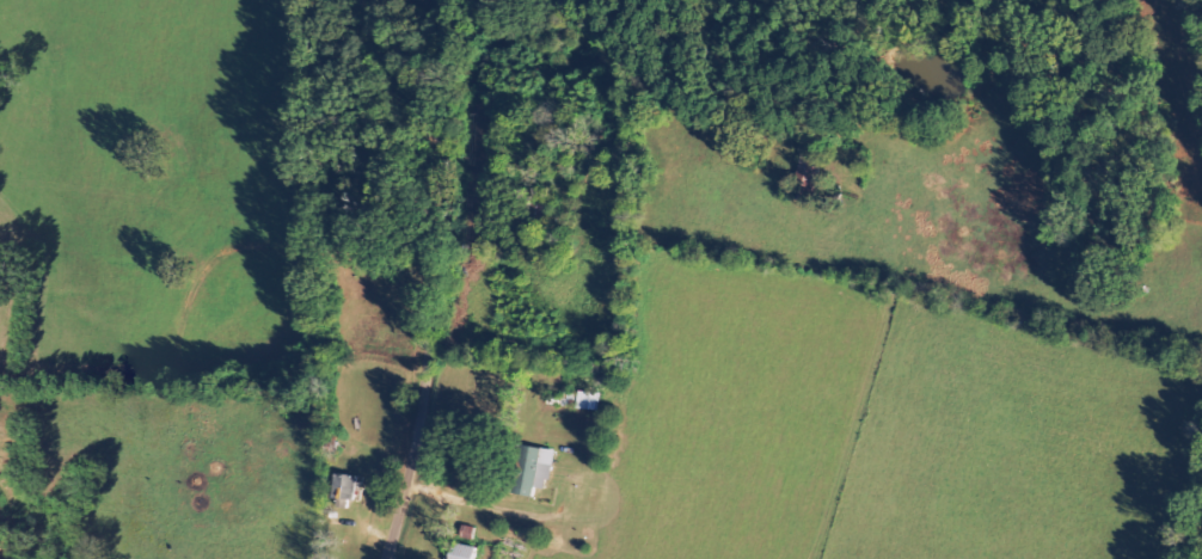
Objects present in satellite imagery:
road: (437, 274)
building: (534, 469)
building: (351, 487)
building: (472, 551)

